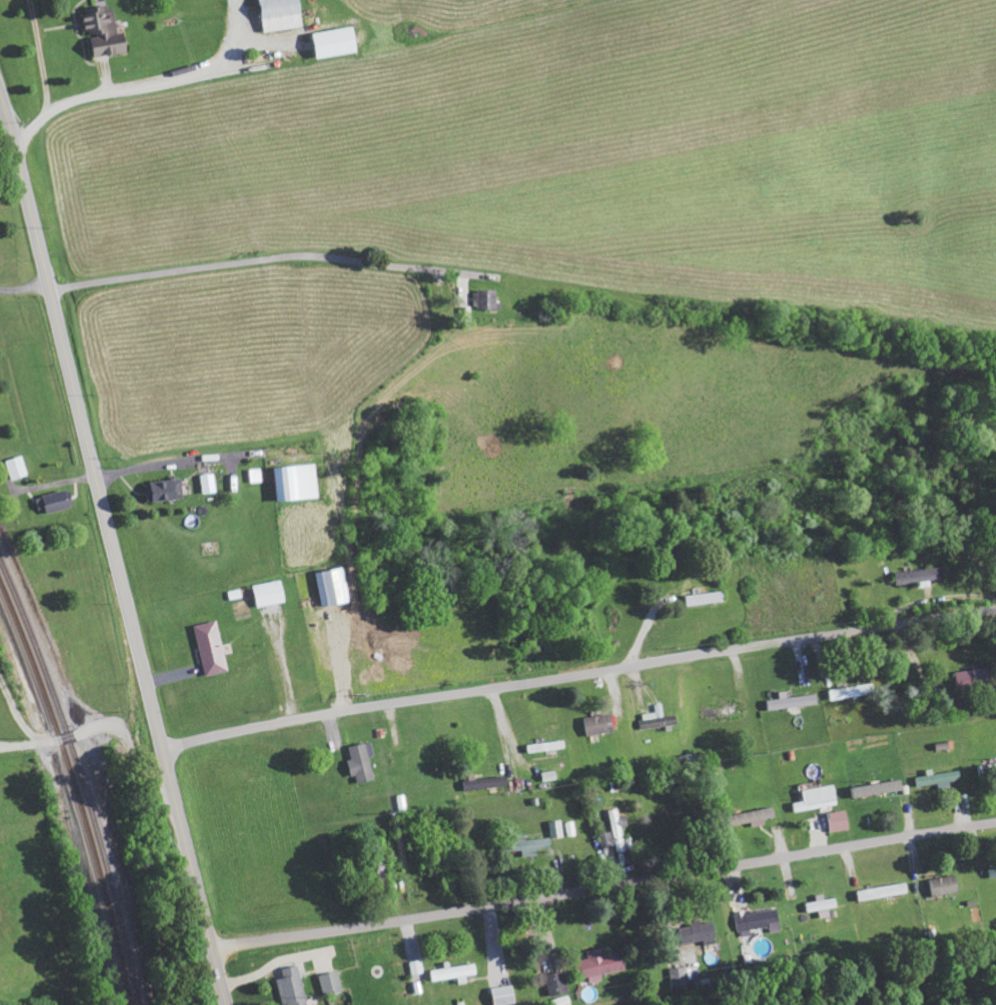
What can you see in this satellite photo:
building: (283, 15)
building: (107, 33)
building: (338, 43)
road: (263, 259)
building: (486, 299)
building: (17, 467)
building: (297, 482)
building: (208, 483)
building: (166, 490)
building: (56, 501)
road: (114, 545)
building: (922, 575)
building: (332, 586)
building: (270, 593)
building: (705, 598)
building: (211, 648)
road: (580, 675)
building: (974, 678)
building: (851, 691)
building: (793, 701)
building: (655, 718)
building: (601, 724)
road: (91, 728)
building: (547, 746)
building: (363, 762)
building: (986, 770)
building: (548, 776)
railway: (81, 777)
building: (940, 779)
building: (488, 783)
building: (878, 788)
railway: (76, 790)
building: (817, 798)
building: (757, 817)
building: (840, 820)
building: (556, 829)
building: (615, 831)
building: (535, 845)
road: (605, 887)
building: (883, 891)
building: (823, 905)
building: (759, 921)
building: (702, 932)
building: (602, 963)
building: (455, 973)
building: (678, 976)
building: (332, 983)
building: (557, 983)
building: (293, 987)
building: (504, 995)

